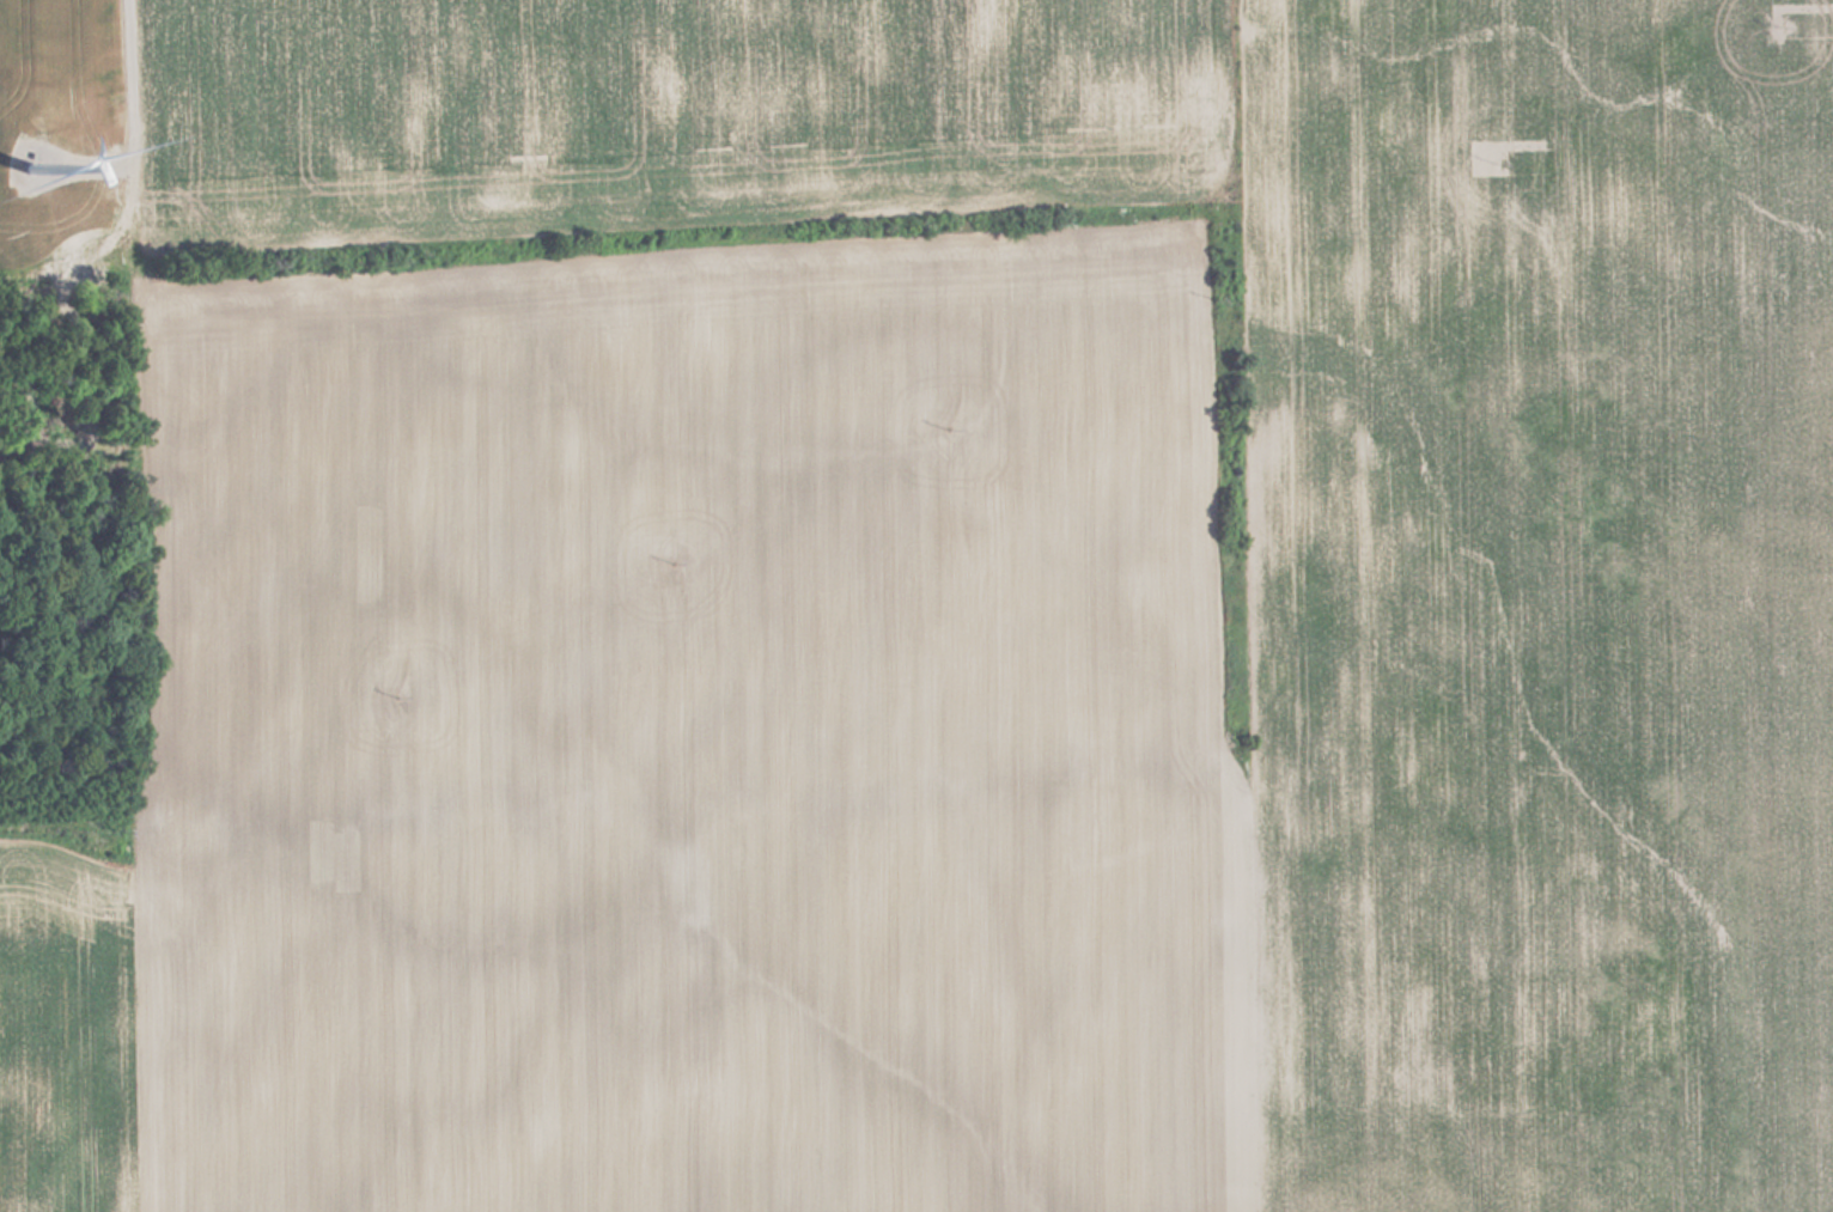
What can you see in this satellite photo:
road: (108, 86)
wind turbine: (32, 173)

